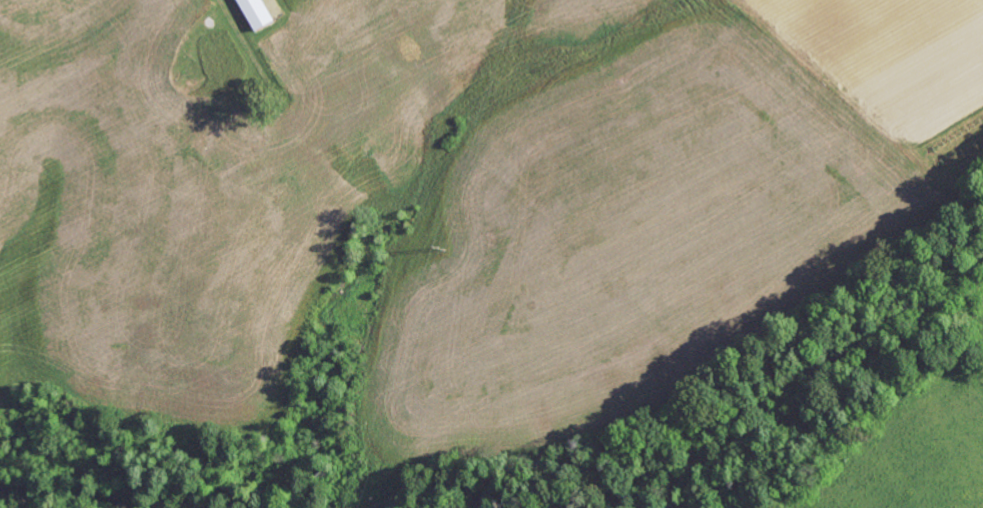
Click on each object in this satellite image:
building: (257, 12)
road: (242, 40)

